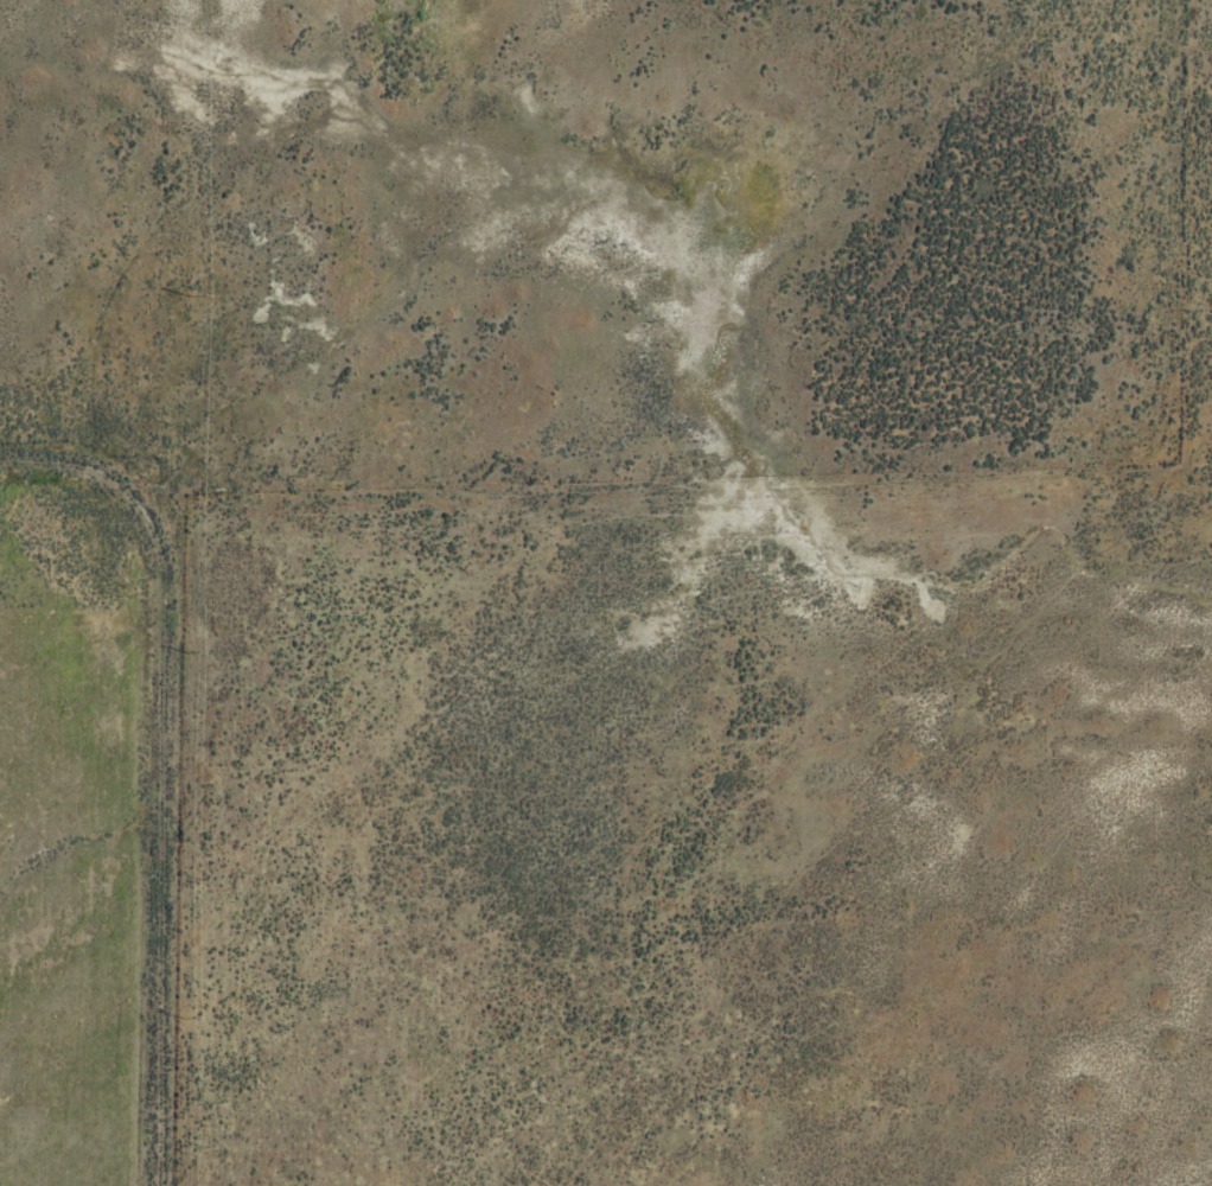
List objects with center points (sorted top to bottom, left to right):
crop: (606, 593)
road: (198, 738)

